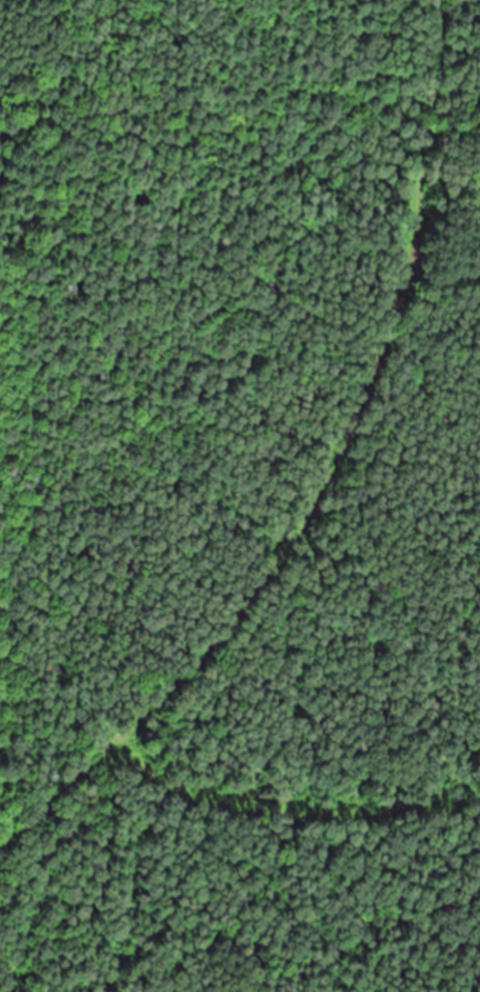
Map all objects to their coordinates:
road: (323, 479)
road: (291, 809)

